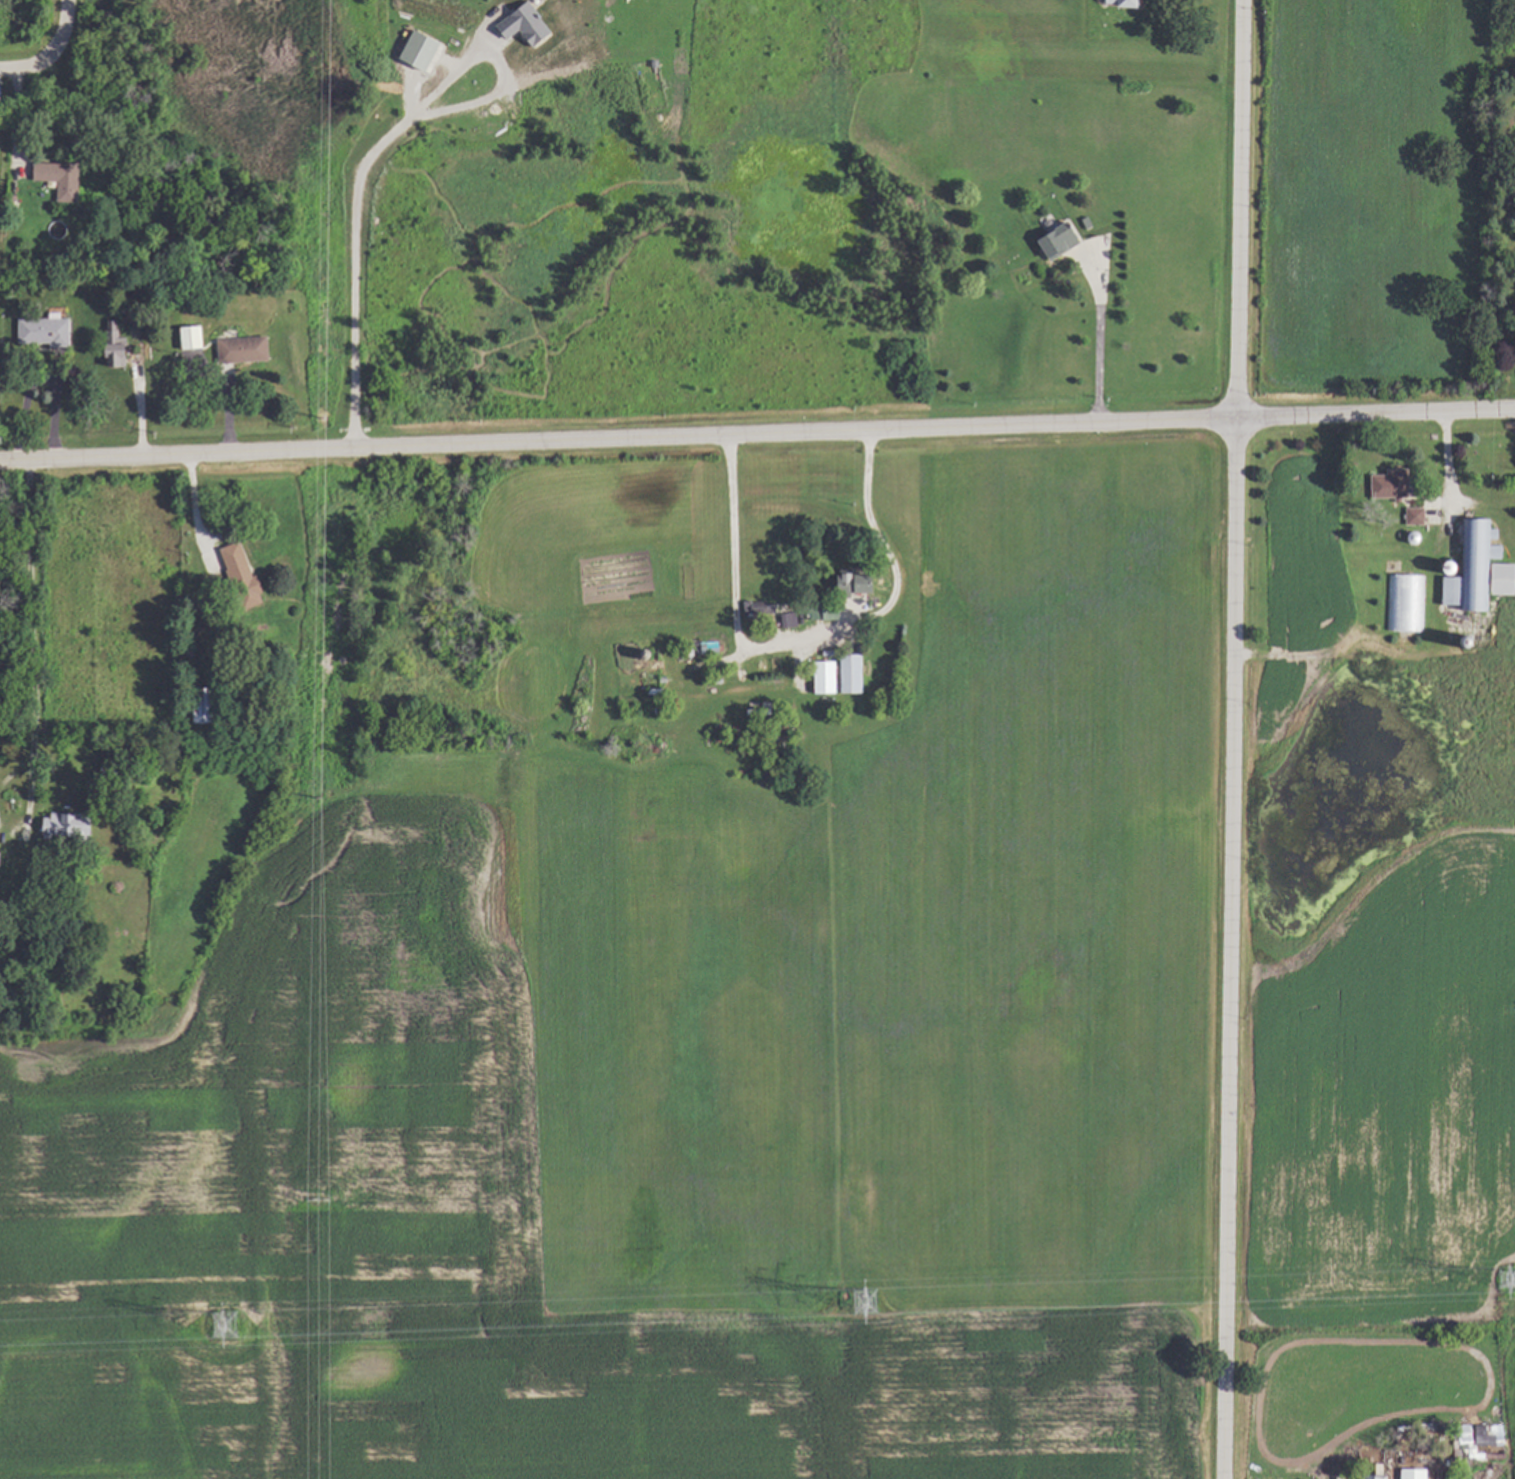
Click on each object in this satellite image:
building: (1112, 2)
building: (522, 20)
road: (62, 29)
road: (25, 66)
road: (16, 121)
road: (373, 153)
building: (61, 180)
building: (1048, 241)
building: (45, 333)
road: (1096, 336)
building: (192, 339)
building: (117, 347)
building: (244, 351)
road: (757, 435)
road: (1444, 472)
building: (1379, 486)
road: (194, 512)
building: (1409, 515)
building: (1473, 569)
building: (242, 577)
building: (840, 585)
building: (1404, 602)
road: (805, 639)
road: (33, 657)
building: (844, 674)
building: (817, 676)
building: (205, 708)
road: (1231, 739)
building: (61, 826)
crop: (811, 1077)
power tower: (1507, 1277)
power tower: (866, 1300)
power tower: (223, 1324)
building: (1459, 1436)
building: (1407, 1473)
building: (1367, 1476)

